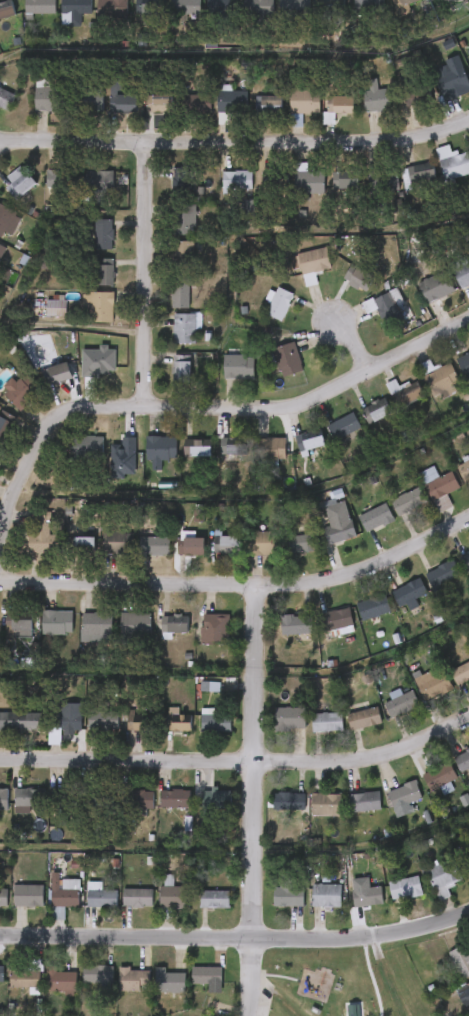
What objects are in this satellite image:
building: (452, 0)
building: (408, 1)
building: (418, 2)
building: (223, 6)
building: (334, 6)
building: (40, 7)
building: (150, 7)
building: (259, 7)
building: (368, 7)
building: (113, 8)
building: (296, 8)
building: (7, 9)
building: (183, 9)
building: (77, 10)
building: (387, 12)
building: (23, 17)
building: (126, 17)
building: (169, 17)
building: (316, 17)
building: (203, 18)
building: (277, 18)
building: (352, 18)
building: (95, 19)
building: (242, 19)
building: (58, 21)
building: (468, 50)
building: (462, 78)
building: (437, 88)
building: (416, 94)
building: (48, 96)
building: (378, 97)
building: (6, 99)
building: (122, 100)
building: (198, 100)
building: (232, 100)
building: (88, 101)
building: (305, 102)
building: (162, 103)
building: (269, 103)
building: (339, 105)
building: (359, 109)
building: (399, 109)
building: (28, 111)
building: (104, 111)
building: (214, 111)
building: (76, 113)
building: (288, 113)
building: (141, 115)
building: (181, 115)
building: (251, 115)
building: (320, 120)
road: (235, 143)
building: (455, 165)
building: (419, 175)
building: (436, 175)
building: (57, 177)
building: (275, 179)
building: (184, 180)
building: (238, 180)
building: (309, 181)
building: (384, 182)
building: (93, 183)
building: (21, 184)
building: (349, 184)
building: (404, 185)
building: (81, 190)
building: (163, 190)
building: (36, 191)
building: (220, 192)
building: (328, 192)
building: (6, 193)
building: (291, 193)
building: (389, 193)
building: (356, 194)
building: (183, 219)
building: (6, 221)
building: (168, 234)
building: (104, 235)
building: (86, 246)
building: (183, 255)
building: (166, 263)
building: (313, 264)
building: (105, 274)
building: (462, 274)
road: (145, 276)
building: (295, 277)
building: (361, 280)
building: (88, 284)
building: (453, 286)
building: (436, 287)
building: (340, 290)
building: (180, 293)
building: (418, 299)
building: (277, 302)
building: (385, 305)
building: (163, 306)
building: (102, 307)
building: (56, 308)
building: (261, 315)
building: (368, 316)
building: (82, 317)
building: (38, 320)
building: (184, 328)
building: (168, 339)
road: (354, 342)
building: (288, 359)
building: (464, 364)
building: (239, 366)
building: (182, 368)
building: (270, 371)
building: (58, 373)
building: (439, 376)
building: (222, 378)
building: (165, 380)
building: (39, 386)
building: (423, 390)
building: (18, 391)
building: (406, 392)
building: (8, 402)
building: (379, 408)
road: (181, 409)
building: (359, 422)
building: (343, 426)
building: (5, 428)
building: (326, 438)
building: (310, 440)
building: (235, 446)
building: (89, 447)
building: (199, 447)
building: (162, 448)
building: (271, 449)
building: (292, 453)
building: (71, 458)
building: (213, 458)
building: (256, 459)
building: (180, 460)
building: (144, 462)
building: (106, 470)
building: (464, 471)
building: (441, 489)
building: (422, 499)
building: (408, 501)
building: (391, 513)
building: (375, 517)
building: (337, 523)
building: (359, 530)
building: (320, 531)
building: (43, 537)
building: (115, 543)
building: (267, 543)
building: (304, 543)
building: (227, 545)
building: (85, 546)
building: (25, 547)
building: (154, 547)
building: (191, 547)
building: (67, 554)
building: (102, 554)
building: (246, 555)
building: (283, 555)
building: (173, 556)
building: (209, 556)
building: (137, 557)
building: (465, 562)
building: (442, 574)
road: (241, 584)
building: (425, 586)
building: (409, 595)
building: (393, 605)
building: (373, 608)
building: (356, 619)
building: (335, 620)
building: (18, 622)
building: (56, 623)
building: (134, 624)
building: (174, 625)
building: (295, 625)
building: (96, 628)
building: (214, 629)
building: (322, 633)
building: (40, 634)
building: (119, 634)
building: (158, 635)
building: (278, 635)
building: (7, 636)
building: (79, 638)
building: (198, 640)
building: (460, 673)
building: (434, 686)
building: (416, 695)
building: (400, 705)
building: (383, 714)
building: (289, 719)
building: (363, 719)
building: (68, 720)
building: (102, 721)
building: (139, 721)
building: (177, 723)
building: (215, 723)
building: (326, 723)
building: (54, 730)
building: (273, 730)
building: (347, 730)
building: (87, 732)
building: (118, 732)
building: (161, 732)
building: (12, 733)
building: (197, 733)
building: (309, 734)
building: (462, 761)
road: (238, 762)
building: (438, 776)
building: (423, 790)
building: (403, 795)
building: (65, 797)
building: (29, 798)
building: (101, 798)
building: (3, 799)
building: (174, 799)
building: (139, 800)
road: (253, 800)
building: (215, 801)
building: (288, 802)
building: (364, 802)
building: (326, 805)
building: (13, 810)
building: (158, 810)
building: (199, 810)
building: (387, 810)
building: (126, 811)
building: (272, 813)
building: (347, 813)
building: (309, 816)
building: (466, 862)
building: (442, 874)
building: (404, 888)
building: (425, 890)
building: (64, 893)
building: (27, 895)
building: (287, 895)
building: (325, 896)
building: (3, 897)
building: (173, 897)
building: (366, 897)
building: (101, 898)
building: (136, 898)
building: (213, 899)
building: (388, 899)
building: (47, 903)
building: (155, 905)
building: (271, 905)
building: (84, 907)
building: (309, 907)
building: (350, 907)
building: (121, 909)
building: (197, 910)
road: (236, 939)
building: (460, 959)
building: (1, 972)
building: (97, 973)
building: (445, 973)
building: (26, 975)
building: (206, 975)
building: (133, 978)
building: (61, 980)
building: (168, 980)
building: (81, 986)
building: (190, 987)
building: (467, 987)
building: (11, 989)
building: (116, 990)
building: (44, 992)
building: (152, 993)
building: (455, 1004)

